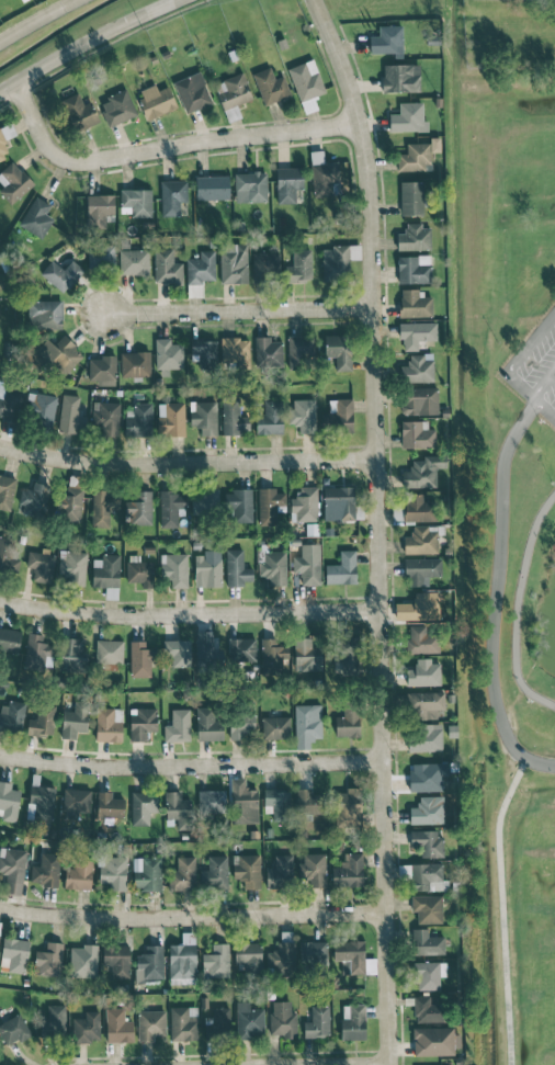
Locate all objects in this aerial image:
road: (35, 20)
building: (387, 39)
road: (87, 41)
road: (100, 46)
building: (400, 77)
building: (306, 80)
building: (271, 86)
building: (192, 91)
building: (156, 100)
building: (117, 107)
building: (80, 112)
building: (408, 117)
building: (5, 138)
road: (161, 147)
building: (418, 155)
building: (324, 175)
building: (13, 182)
building: (287, 183)
building: (250, 186)
building: (212, 188)
building: (172, 196)
building: (411, 197)
building: (137, 201)
building: (36, 217)
building: (414, 237)
building: (101, 258)
building: (134, 261)
building: (338, 261)
building: (234, 263)
building: (301, 264)
building: (167, 267)
building: (265, 267)
building: (202, 268)
building: (414, 269)
building: (61, 274)
building: (415, 304)
road: (236, 313)
building: (45, 314)
building: (416, 333)
building: (336, 344)
building: (299, 350)
building: (267, 351)
building: (204, 352)
building: (235, 352)
building: (54, 354)
building: (168, 355)
building: (135, 363)
road: (524, 366)
parking lot: (533, 366)
building: (418, 369)
building: (102, 370)
road: (543, 384)
building: (419, 400)
building: (10, 403)
road: (544, 408)
building: (42, 409)
building: (70, 413)
building: (303, 415)
building: (204, 416)
building: (231, 416)
building: (105, 418)
building: (270, 418)
building: (171, 419)
building: (138, 420)
building: (337, 420)
building: (417, 434)
road: (186, 464)
building: (422, 472)
building: (7, 491)
building: (33, 499)
building: (204, 501)
building: (338, 502)
building: (71, 503)
building: (241, 505)
building: (269, 505)
building: (304, 505)
building: (103, 507)
building: (138, 508)
building: (171, 508)
building: (418, 508)
park: (511, 510)
road: (377, 528)
building: (422, 539)
building: (4, 554)
building: (308, 564)
building: (41, 566)
building: (273, 566)
building: (71, 567)
building: (174, 568)
building: (207, 568)
building: (236, 568)
building: (341, 568)
building: (422, 569)
building: (105, 570)
building: (140, 570)
road: (496, 579)
road: (514, 604)
building: (421, 605)
road: (189, 613)
building: (422, 638)
building: (9, 639)
building: (342, 647)
building: (241, 648)
building: (207, 650)
building: (109, 652)
building: (178, 652)
building: (36, 653)
building: (73, 654)
building: (306, 655)
building: (140, 659)
building: (424, 672)
building: (426, 704)
building: (11, 715)
building: (42, 721)
building: (75, 721)
building: (307, 721)
building: (141, 723)
building: (240, 723)
building: (348, 723)
building: (109, 724)
building: (207, 725)
building: (178, 726)
building: (275, 727)
building: (424, 737)
road: (539, 761)
road: (191, 763)
building: (427, 775)
building: (9, 801)
building: (211, 801)
building: (39, 802)
building: (242, 802)
building: (277, 802)
building: (308, 802)
building: (78, 805)
building: (109, 805)
building: (143, 806)
building: (348, 807)
building: (178, 808)
building: (428, 811)
building: (427, 841)
building: (13, 870)
building: (46, 870)
building: (247, 870)
building: (315, 870)
building: (280, 871)
building: (349, 871)
building: (113, 872)
building: (215, 872)
building: (147, 873)
building: (79, 874)
building: (183, 874)
building: (428, 876)
building: (428, 908)
road: (500, 908)
road: (192, 915)
building: (427, 942)
building: (313, 950)
building: (15, 953)
building: (351, 954)
building: (248, 956)
building: (116, 958)
building: (281, 959)
building: (48, 960)
building: (182, 960)
building: (82, 961)
building: (216, 961)
building: (149, 963)
building: (429, 974)
building: (427, 1010)
building: (282, 1019)
building: (248, 1020)
building: (54, 1021)
building: (353, 1021)
building: (317, 1022)
building: (183, 1023)
building: (218, 1023)
building: (150, 1024)
building: (117, 1026)
building: (87, 1027)
building: (13, 1029)
building: (434, 1040)
building: (0, 1064)

